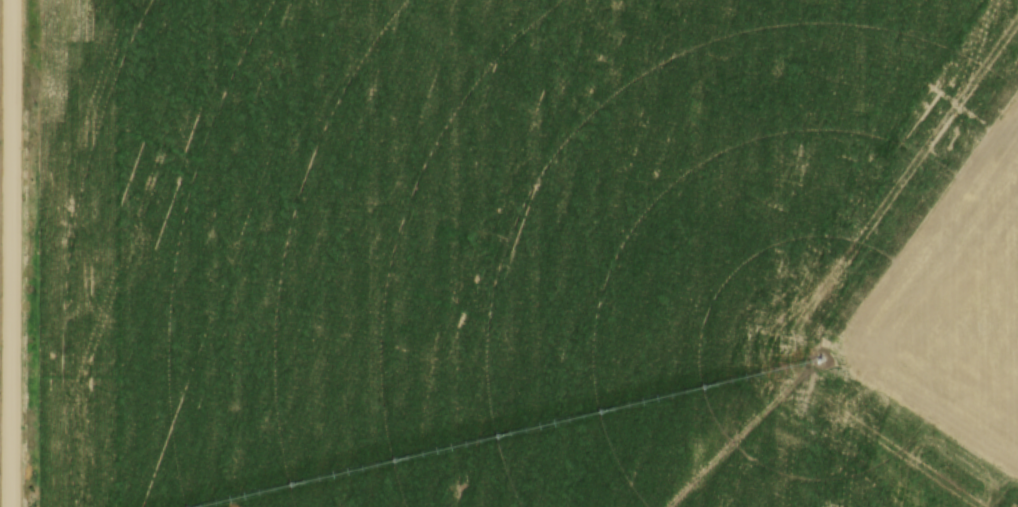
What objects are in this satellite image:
crop: (2, 251)
road: (14, 253)
crop: (529, 253)

